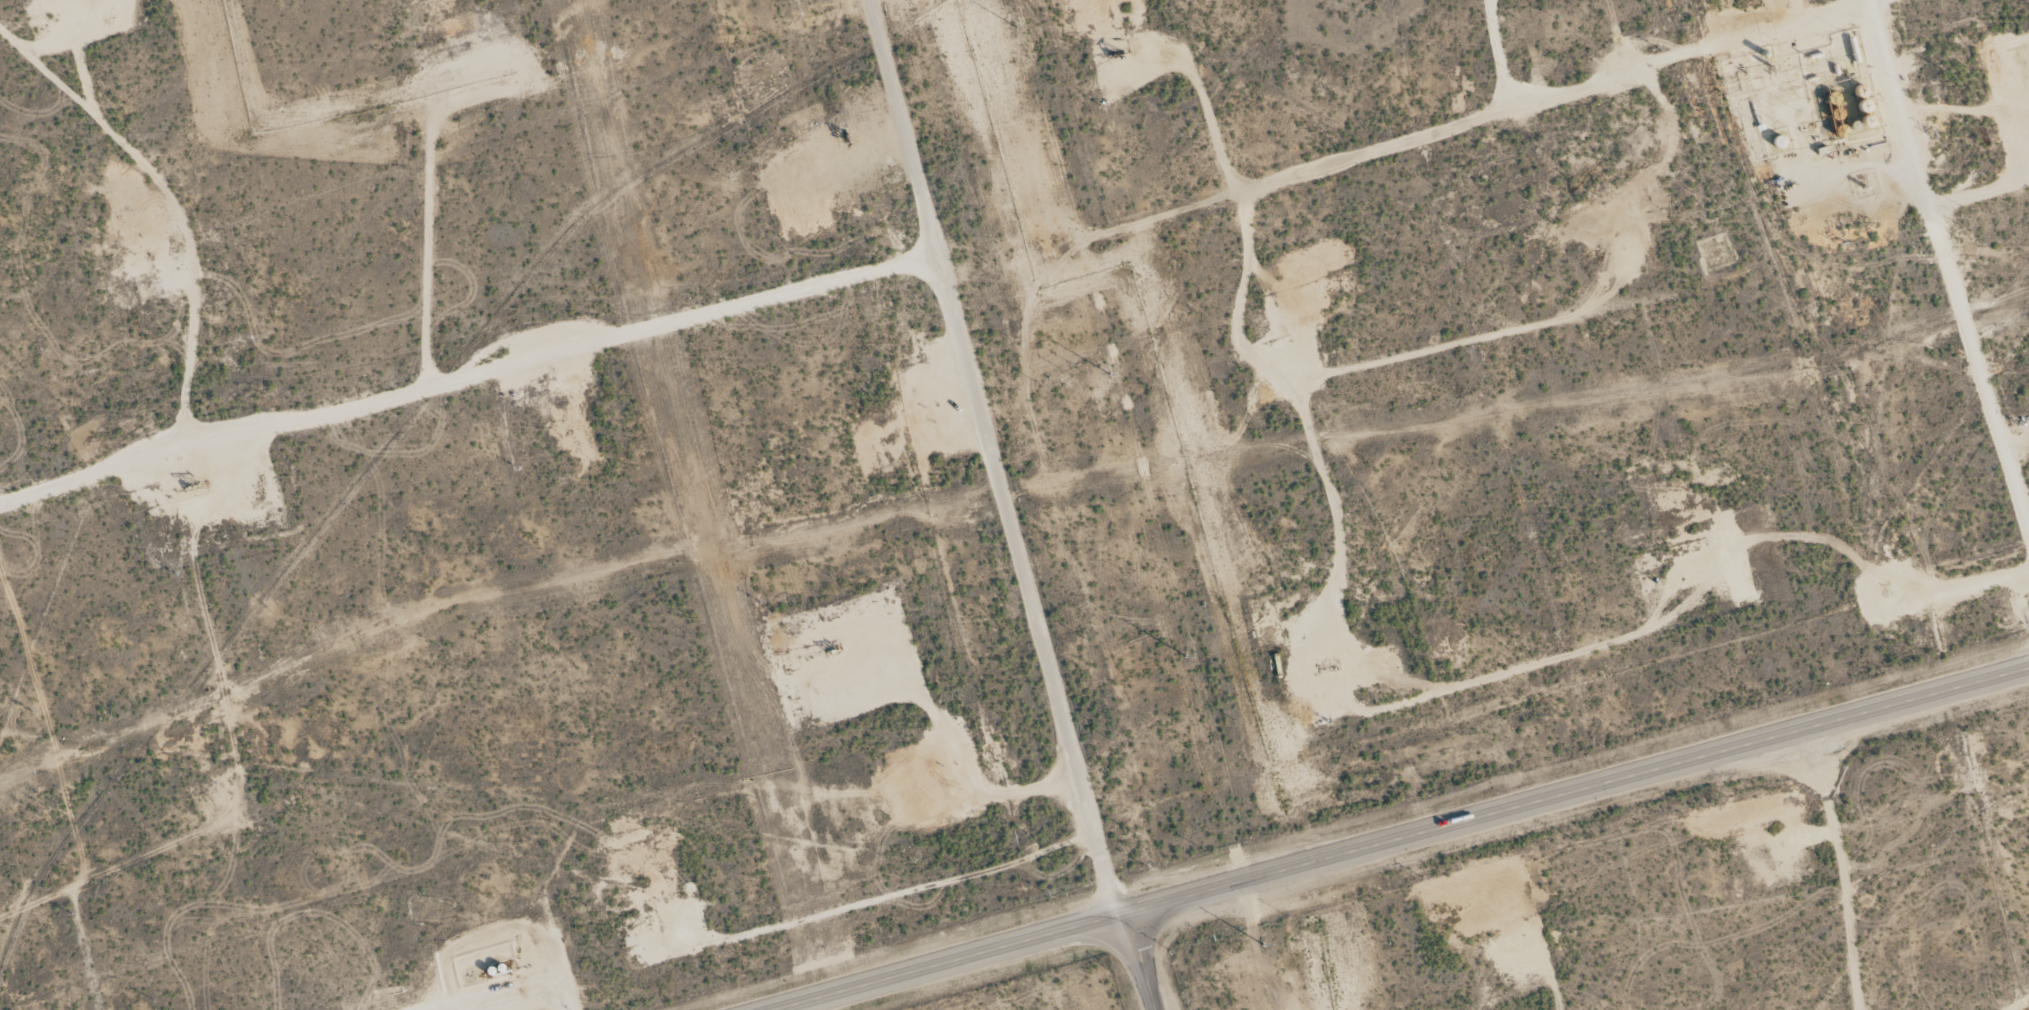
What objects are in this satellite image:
power tower: (1022, 66)
road: (1397, 139)
power tower: (1117, 411)
road: (992, 459)
power tower: (1210, 756)
road: (1403, 839)
power tower: (1257, 933)
road: (1144, 961)
road: (1161, 1002)

